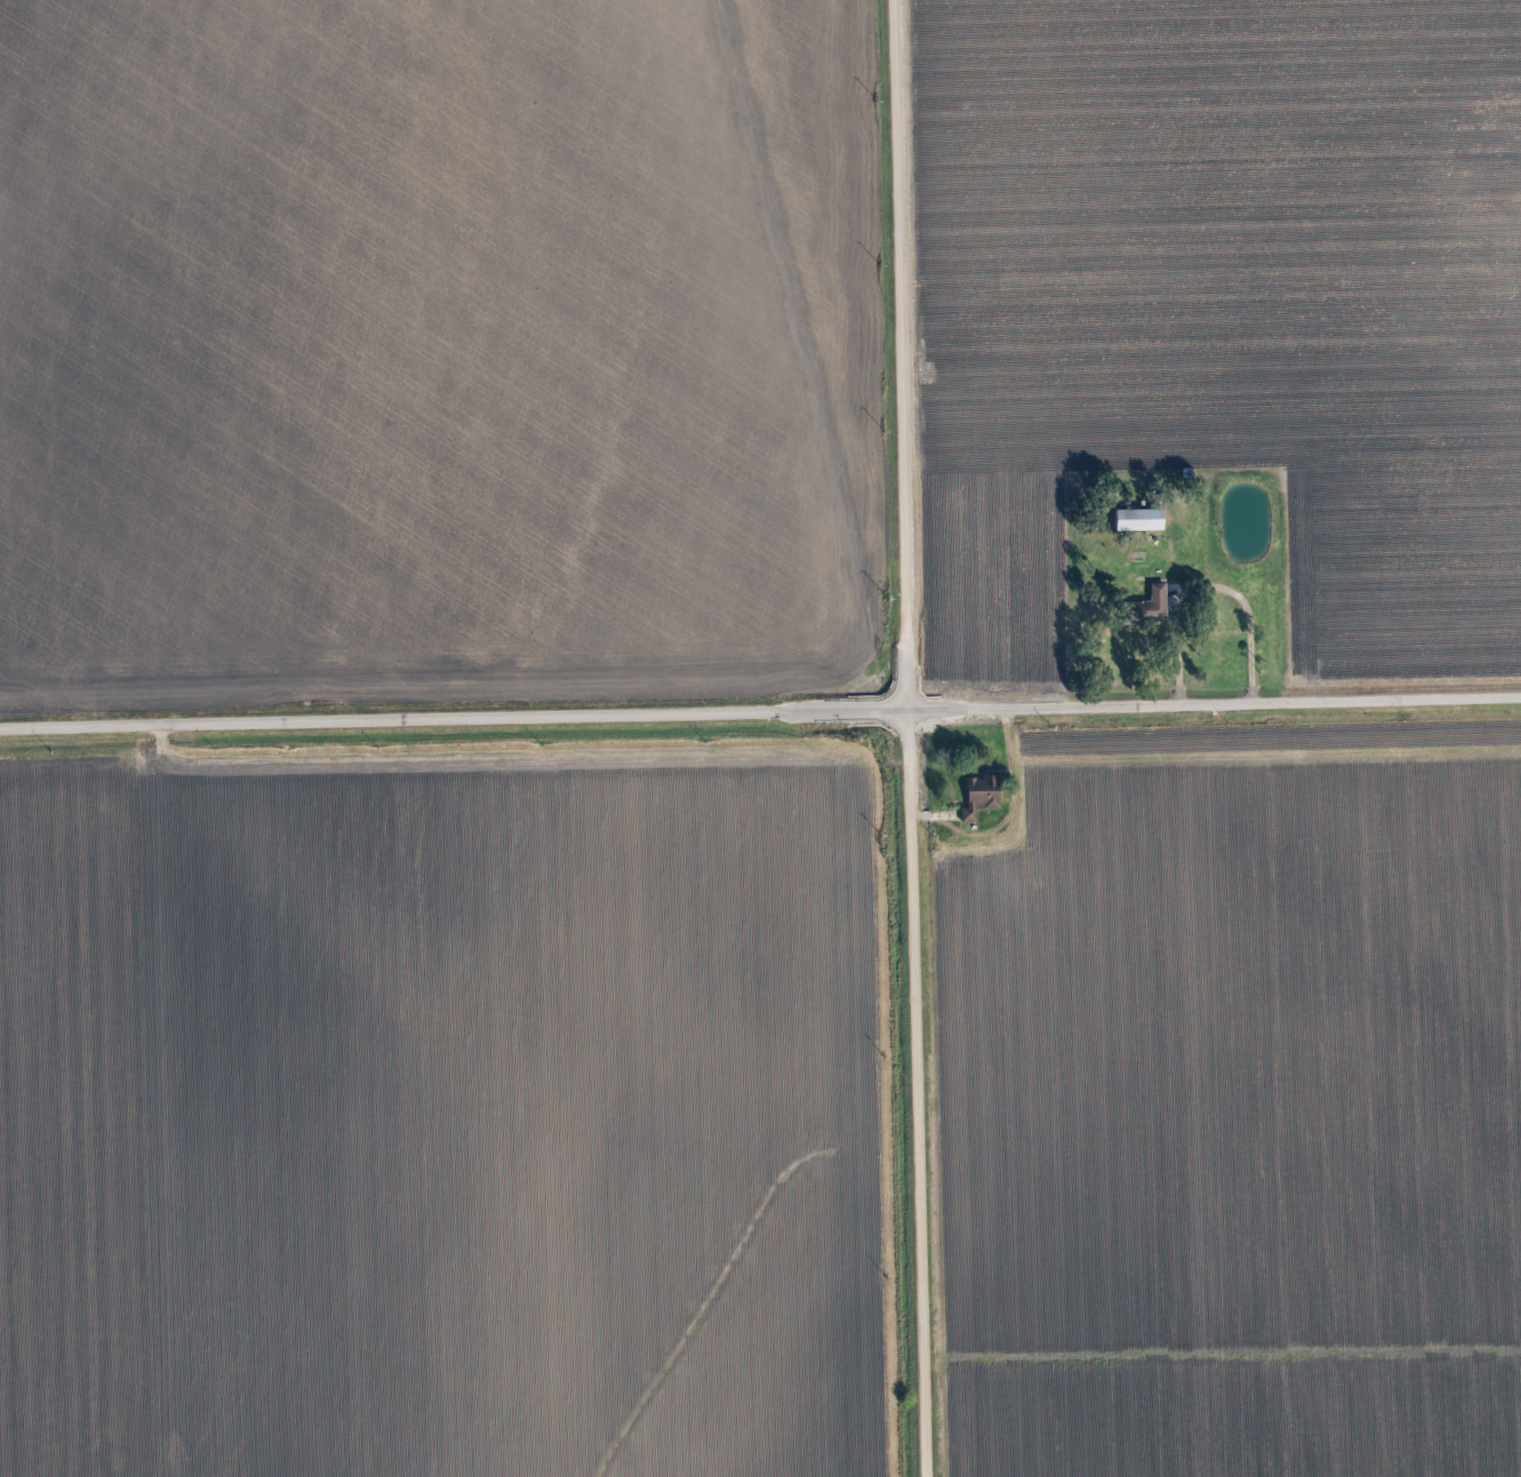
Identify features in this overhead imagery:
road: (149, 614)
road: (1247, 635)
road: (760, 713)
road: (903, 738)
building: (967, 815)
road: (956, 833)

